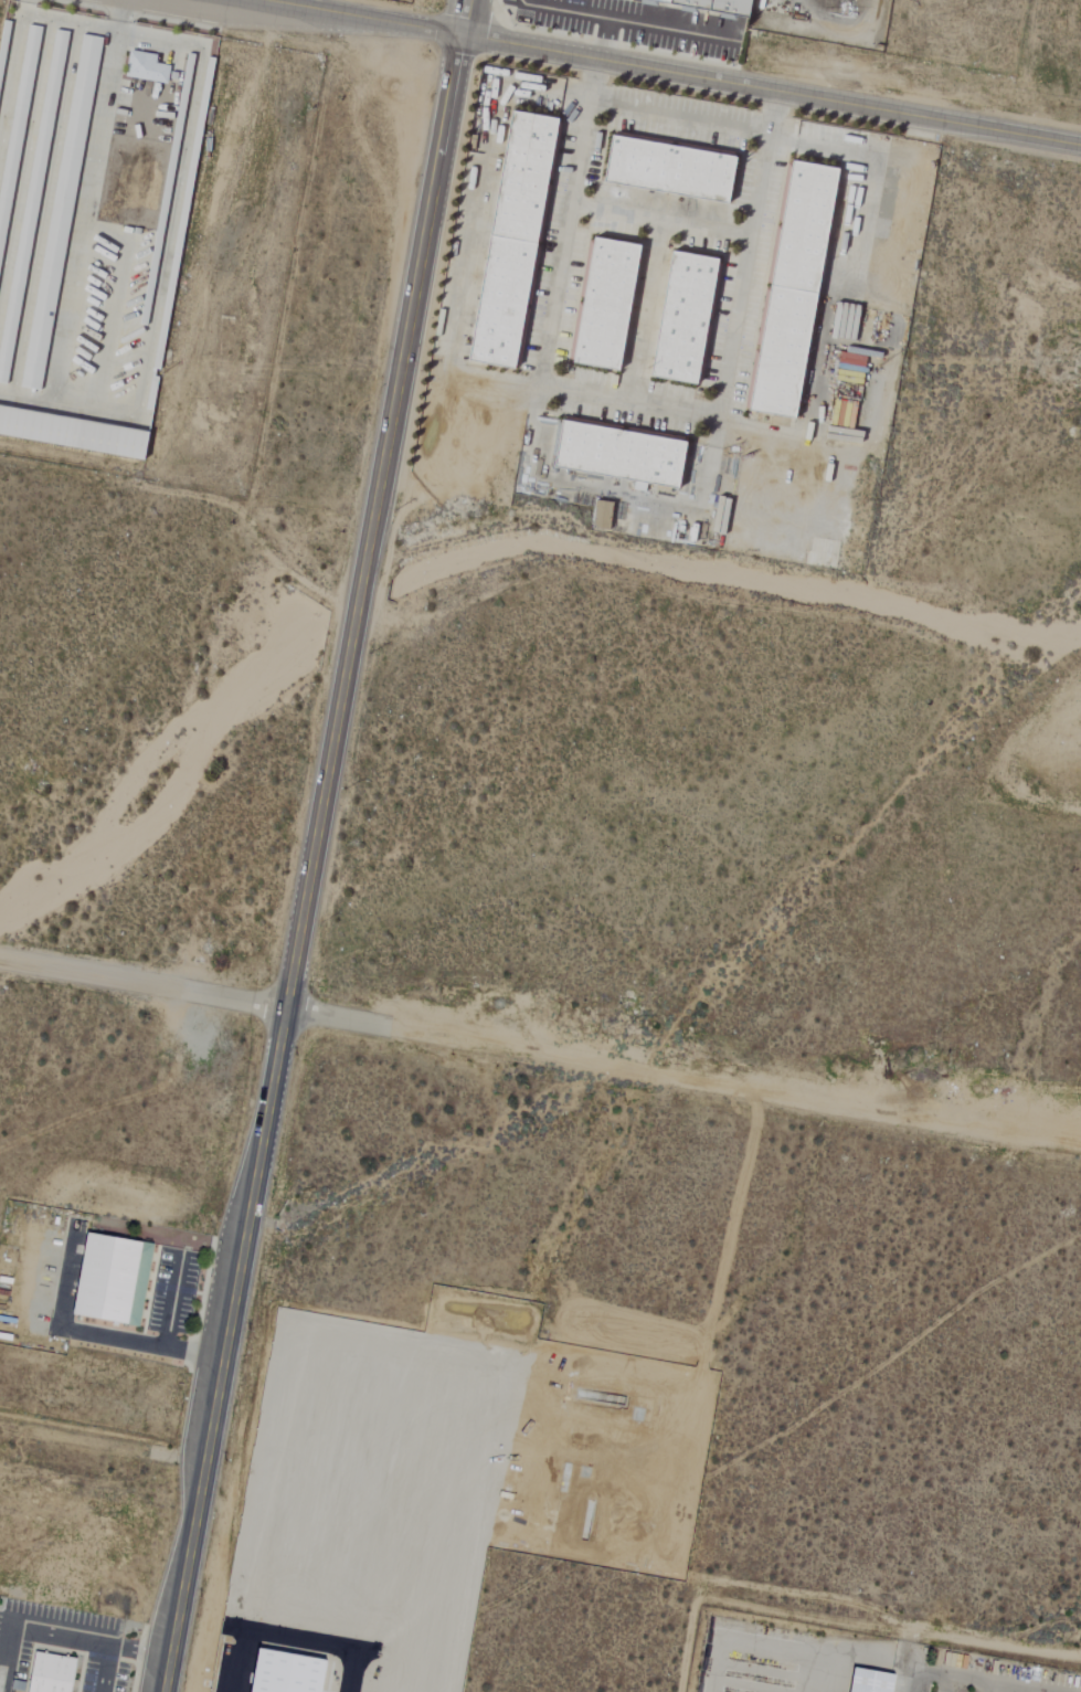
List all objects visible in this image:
building: (718, 6)
road: (584, 11)
road: (665, 31)
building: (147, 67)
building: (86, 73)
road: (671, 75)
road: (679, 118)
building: (677, 170)
road: (660, 219)
road: (470, 225)
building: (519, 240)
building: (799, 290)
building: (613, 305)
road: (642, 308)
building: (691, 318)
building: (40, 335)
road: (628, 399)
building: (622, 455)
building: (722, 515)
building: (604, 516)
road: (314, 845)
road: (193, 992)
road: (734, 1085)
building: (116, 1278)
road: (172, 1303)
road: (153, 1346)
road: (741, 1638)
road: (868, 1659)
road: (816, 1671)
building: (54, 1673)
road: (967, 1677)
building: (859, 1681)
road: (946, 1682)
road: (993, 1686)
road: (1039, 1691)

